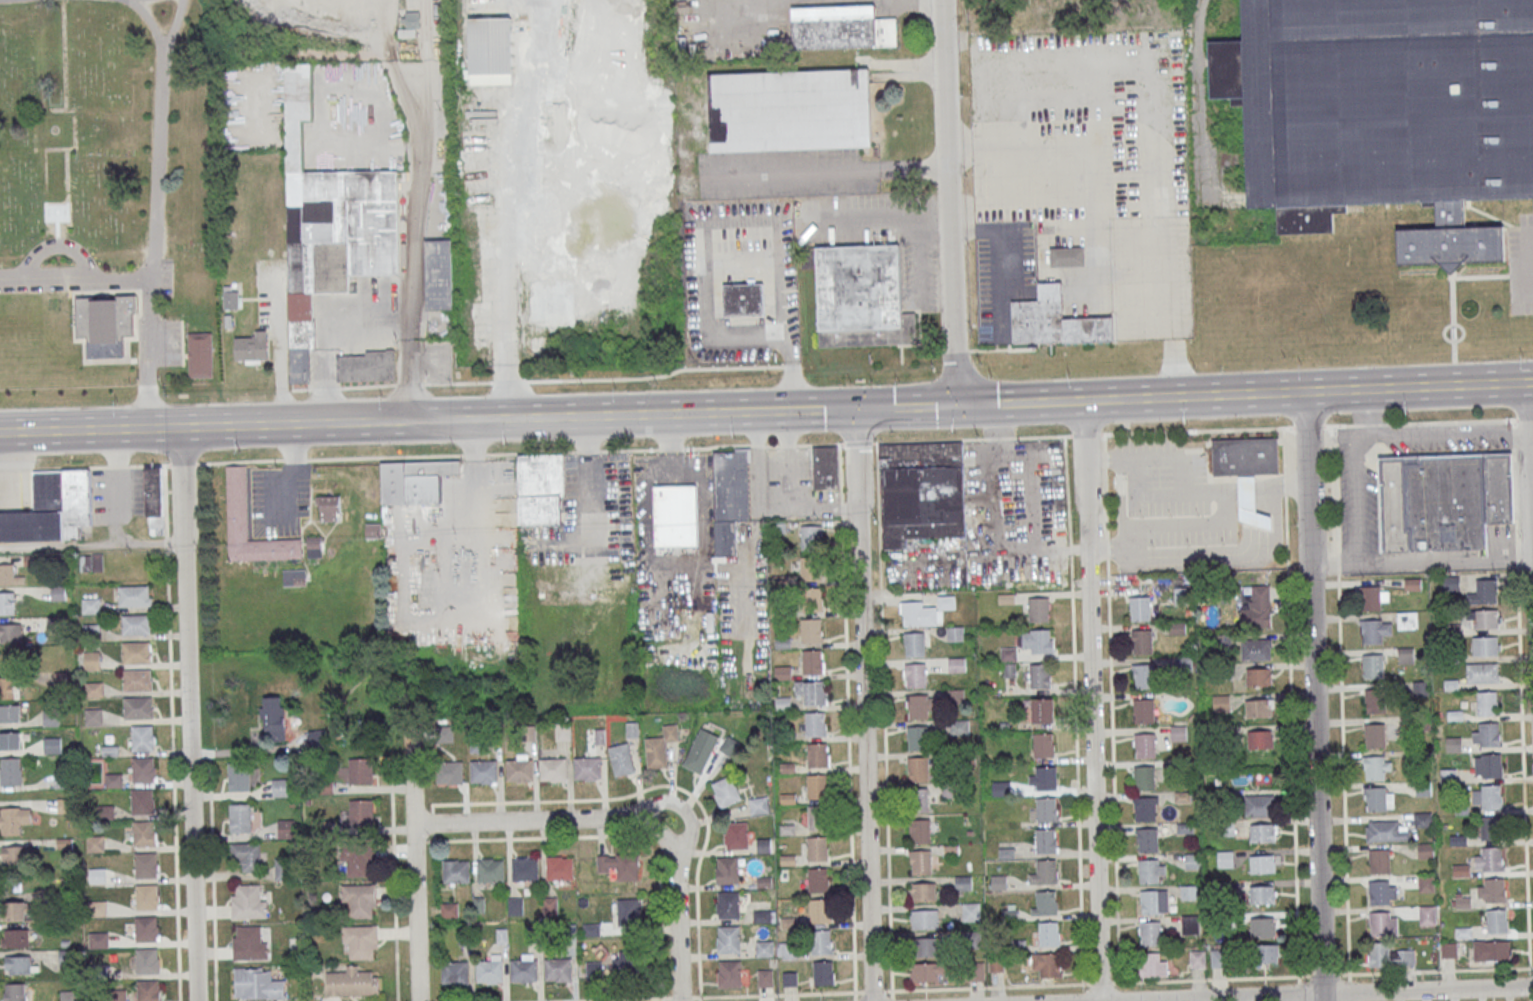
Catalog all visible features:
road: (730, 2)
road: (149, 23)
building: (412, 23)
building: (841, 26)
building: (490, 50)
building: (1391, 108)
building: (788, 109)
road: (1153, 114)
road: (1050, 148)
parking lot: (1089, 166)
road: (825, 171)
road: (947, 202)
park: (108, 204)
road: (155, 212)
road: (1489, 216)
building: (54, 220)
road: (745, 223)
building: (329, 226)
road: (505, 226)
road: (1512, 228)
road: (1504, 229)
road: (996, 231)
road: (1521, 233)
road: (56, 245)
road: (415, 256)
building: (1068, 256)
road: (1516, 259)
parking lot: (1521, 262)
road: (1525, 264)
building: (438, 274)
parking lot: (164, 276)
road: (1517, 276)
road: (1480, 277)
road: (75, 280)
road: (1518, 293)
building: (860, 295)
road: (1452, 296)
building: (231, 297)
building: (743, 301)
building: (1055, 320)
building: (103, 324)
road: (326, 324)
road: (1444, 335)
parking lot: (170, 342)
building: (252, 347)
road: (281, 351)
road: (1453, 351)
building: (199, 354)
street lamp: (1523, 358)
building: (367, 366)
road: (1454, 373)
road: (1243, 393)
traffic signals: (954, 405)
road: (904, 406)
traffic signals: (856, 408)
road: (427, 419)
road: (875, 419)
road: (1203, 430)
road: (1424, 435)
street lamp: (738, 438)
road: (858, 442)
street lamp: (507, 443)
road: (820, 444)
road: (716, 445)
road: (758, 445)
road: (772, 445)
road: (787, 445)
parking lot: (1447, 446)
road: (671, 448)
road: (629, 450)
road: (588, 451)
road: (440, 454)
road: (295, 459)
road: (239, 460)
road: (148, 464)
road: (182, 464)
road: (117, 465)
road: (69, 467)
road: (16, 468)
building: (826, 468)
building: (1246, 470)
road: (1530, 470)
building: (414, 480)
road: (1532, 480)
building: (540, 488)
road: (1283, 488)
building: (922, 492)
road: (1250, 492)
road: (1225, 493)
road: (1234, 493)
parking lot: (1355, 494)
building: (236, 495)
building: (730, 497)
road: (1356, 499)
building: (154, 500)
parking lot: (276, 500)
building: (1443, 500)
building: (329, 507)
building: (51, 508)
parking lot: (589, 509)
road: (480, 513)
building: (373, 529)
building: (811, 537)
road: (91, 547)
building: (97, 561)
building: (85, 563)
road: (1422, 565)
building: (811, 568)
building: (9, 574)
building: (1451, 582)
building: (1484, 592)
building: (133, 595)
building: (1179, 596)
building: (1373, 597)
building: (811, 599)
building: (7, 602)
building: (91, 605)
building: (1257, 607)
building: (1140, 608)
building: (1038, 609)
building: (918, 613)
building: (1484, 618)
building: (1407, 620)
building: (135, 624)
building: (91, 630)
building: (810, 630)
building: (1372, 631)
building: (10, 632)
building: (1040, 641)
building: (1142, 641)
building: (914, 643)
building: (1486, 645)
building: (1256, 648)
building: (136, 652)
building: (1406, 656)
building: (91, 659)
building: (811, 661)
building: (956, 664)
building: (1372, 666)
building: (1482, 672)
building: (915, 675)
building: (1040, 675)
building: (1143, 676)
building: (1258, 677)
building: (137, 680)
building: (9, 687)
building: (813, 692)
road: (1520, 694)
building: (956, 696)
road: (1315, 696)
road: (1091, 700)
building: (1220, 702)
building: (783, 703)
road: (1341, 703)
building: (1376, 703)
building: (1488, 703)
road: (862, 704)
building: (918, 706)
building: (138, 707)
building: (1258, 707)
building: (1043, 710)
building: (1143, 710)
building: (9, 712)
road: (187, 714)
road: (884, 716)
building: (274, 717)
building: (814, 724)
building: (959, 726)
road: (171, 732)
building: (1179, 732)
building: (444, 733)
building: (1490, 734)
building: (1375, 735)
building: (142, 737)
building: (317, 737)
building: (917, 737)
building: (1260, 738)
building: (10, 739)
building: (1144, 744)
building: (728, 745)
building: (1043, 745)
building: (660, 747)
building: (701, 749)
road: (193, 752)
road: (209, 754)
building: (816, 754)
building: (621, 759)
building: (1492, 765)
building: (1377, 767)
building: (552, 768)
building: (587, 768)
building: (918, 768)
building: (10, 770)
building: (144, 770)
building: (519, 770)
building: (358, 771)
building: (484, 771)
building: (449, 772)
building: (239, 777)
building: (1144, 777)
building: (1045, 778)
building: (1265, 778)
building: (816, 786)
building: (282, 787)
building: (725, 791)
building: (1492, 796)
building: (1377, 798)
building: (917, 800)
building: (142, 801)
building: (758, 805)
building: (1259, 805)
building: (1145, 808)
building: (1047, 810)
building: (361, 812)
building: (818, 817)
building: (242, 818)
road: (623, 818)
building: (14, 819)
building: (1423, 819)
building: (1493, 826)
building: (286, 828)
building: (919, 830)
building: (1386, 831)
building: (1263, 832)
building: (144, 833)
building: (735, 835)
building: (1147, 839)
building: (1045, 840)
building: (95, 844)
building: (816, 848)
building: (1425, 850)
building: (14, 854)
building: (246, 855)
building: (358, 859)
building: (1225, 859)
building: (1492, 859)
building: (921, 861)
building: (1193, 861)
building: (1379, 861)
building: (1262, 863)
road: (414, 864)
building: (146, 865)
building: (620, 865)
building: (559, 868)
building: (282, 869)
building: (525, 869)
building: (490, 870)
building: (727, 870)
building: (1460, 870)
building: (455, 871)
building: (1047, 871)
building: (1148, 871)
road: (211, 878)
building: (817, 879)
building: (963, 882)
building: (998, 882)
building: (1426, 882)
building: (1495, 890)
building: (923, 891)
building: (1189, 892)
building: (1382, 892)
building: (1262, 894)
building: (146, 896)
building: (359, 900)
building: (248, 901)
building: (1047, 902)
building: (1156, 902)
building: (1461, 902)
building: (728, 904)
building: (515, 905)
building: (17, 910)
building: (820, 910)
building: (629, 911)
building: (969, 911)
building: (1427, 915)
building: (762, 916)
building: (925, 919)
building: (1497, 920)
building: (1383, 923)
building: (1191, 924)
building: (1263, 926)
building: (145, 928)
building: (1049, 933)
building: (1150, 933)
building: (15, 937)
building: (728, 939)
building: (98, 940)
building: (820, 941)
building: (249, 942)
building: (360, 942)
building: (925, 946)
building: (764, 948)
building: (1448, 949)
building: (1491, 950)
building: (1268, 953)
building: (1389, 955)
building: (1197, 958)
building: (1217, 958)
building: (65, 959)
building: (147, 960)
building: (18, 964)
building: (624, 964)
building: (1049, 964)
building: (1153, 964)
building: (558, 969)
building: (524, 970)
building: (489, 971)
building: (454, 972)
building: (823, 972)
building: (925, 972)
building: (729, 973)
building: (765, 977)
road: (1210, 978)
building: (790, 979)
building: (351, 982)
building: (257, 984)
building: (149, 990)
road: (1348, 990)
building: (14, 992)
road: (1330, 994)
building: (68, 995)
road: (720, 996)

